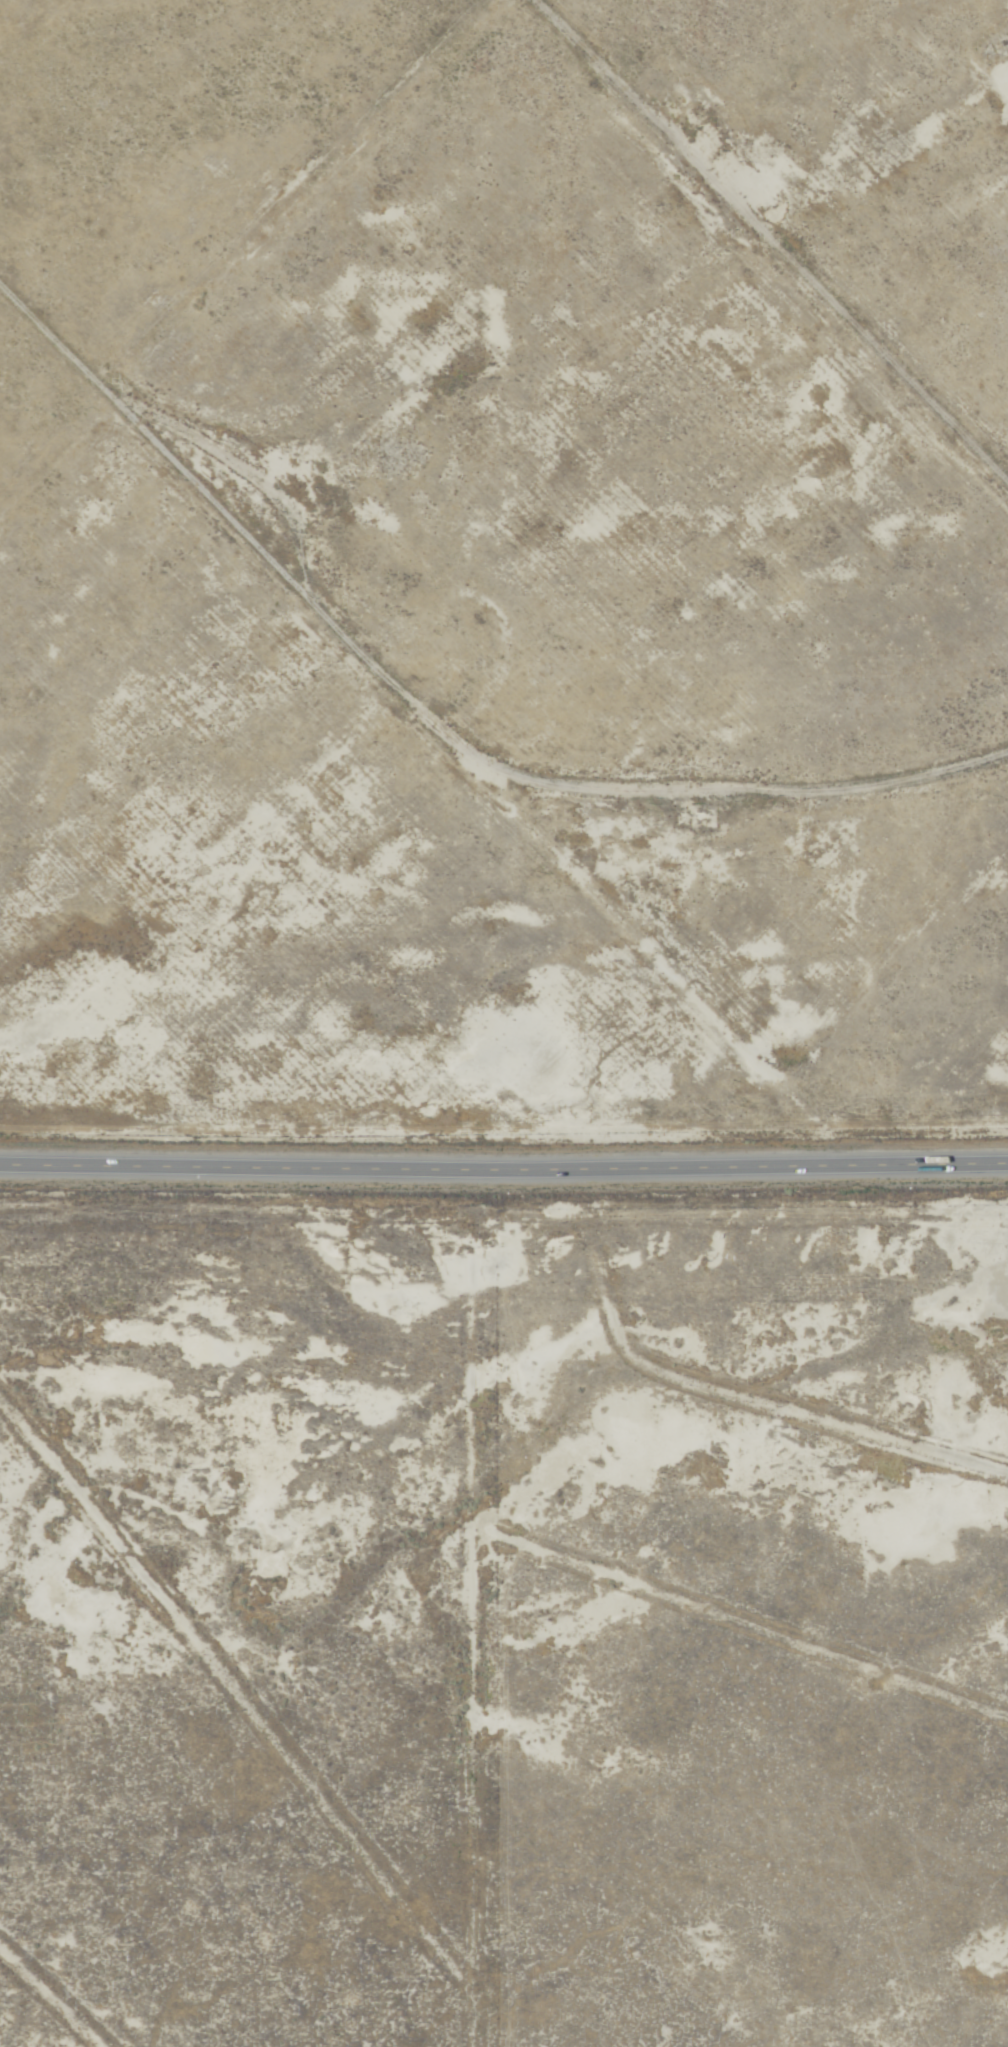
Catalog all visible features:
road: (766, 242)
road: (427, 718)
road: (504, 1167)

